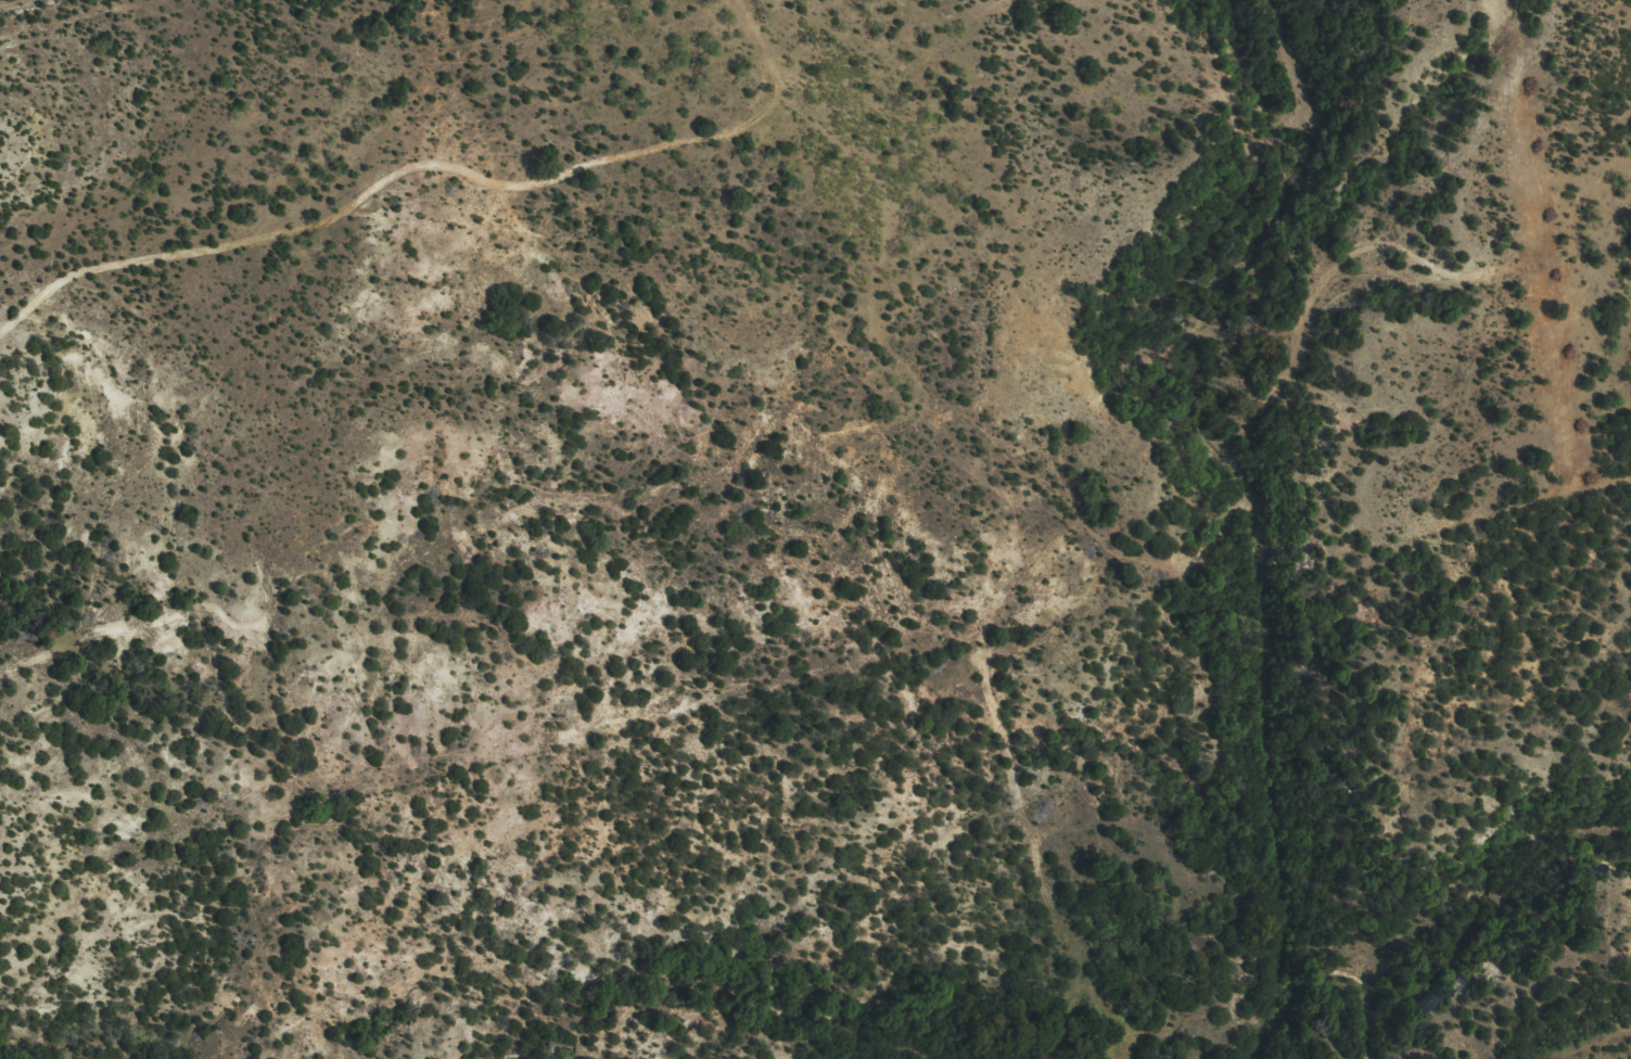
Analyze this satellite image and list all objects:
road: (124, 21)

